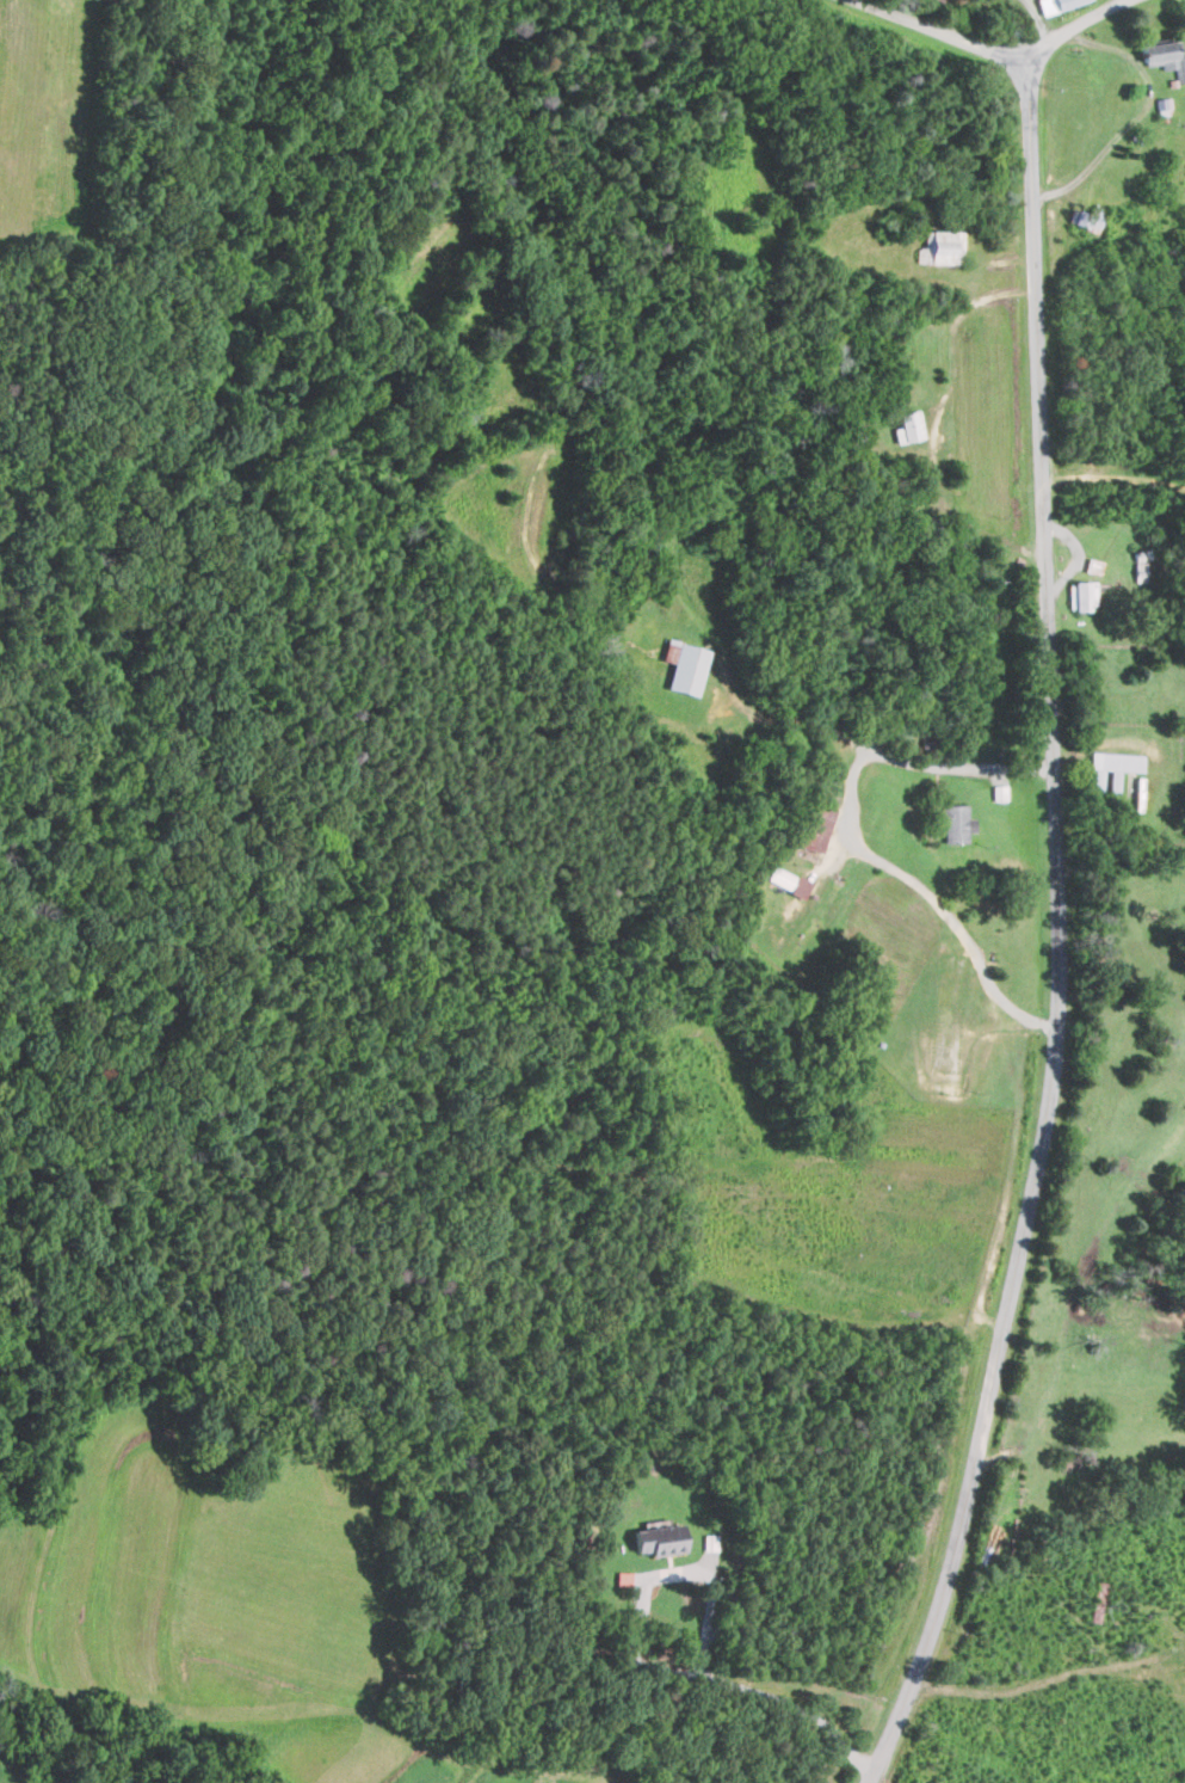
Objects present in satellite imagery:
building: (1054, 4)
road: (1039, 19)
road: (1007, 51)
building: (1165, 56)
building: (1164, 103)
road: (1141, 111)
building: (1087, 216)
building: (940, 246)
building: (908, 426)
building: (1093, 565)
building: (1081, 595)
building: (684, 665)
building: (1112, 767)
building: (955, 823)
building: (815, 826)
road: (854, 844)
building: (788, 880)
road: (1057, 933)
building: (656, 1541)
road: (644, 1666)

